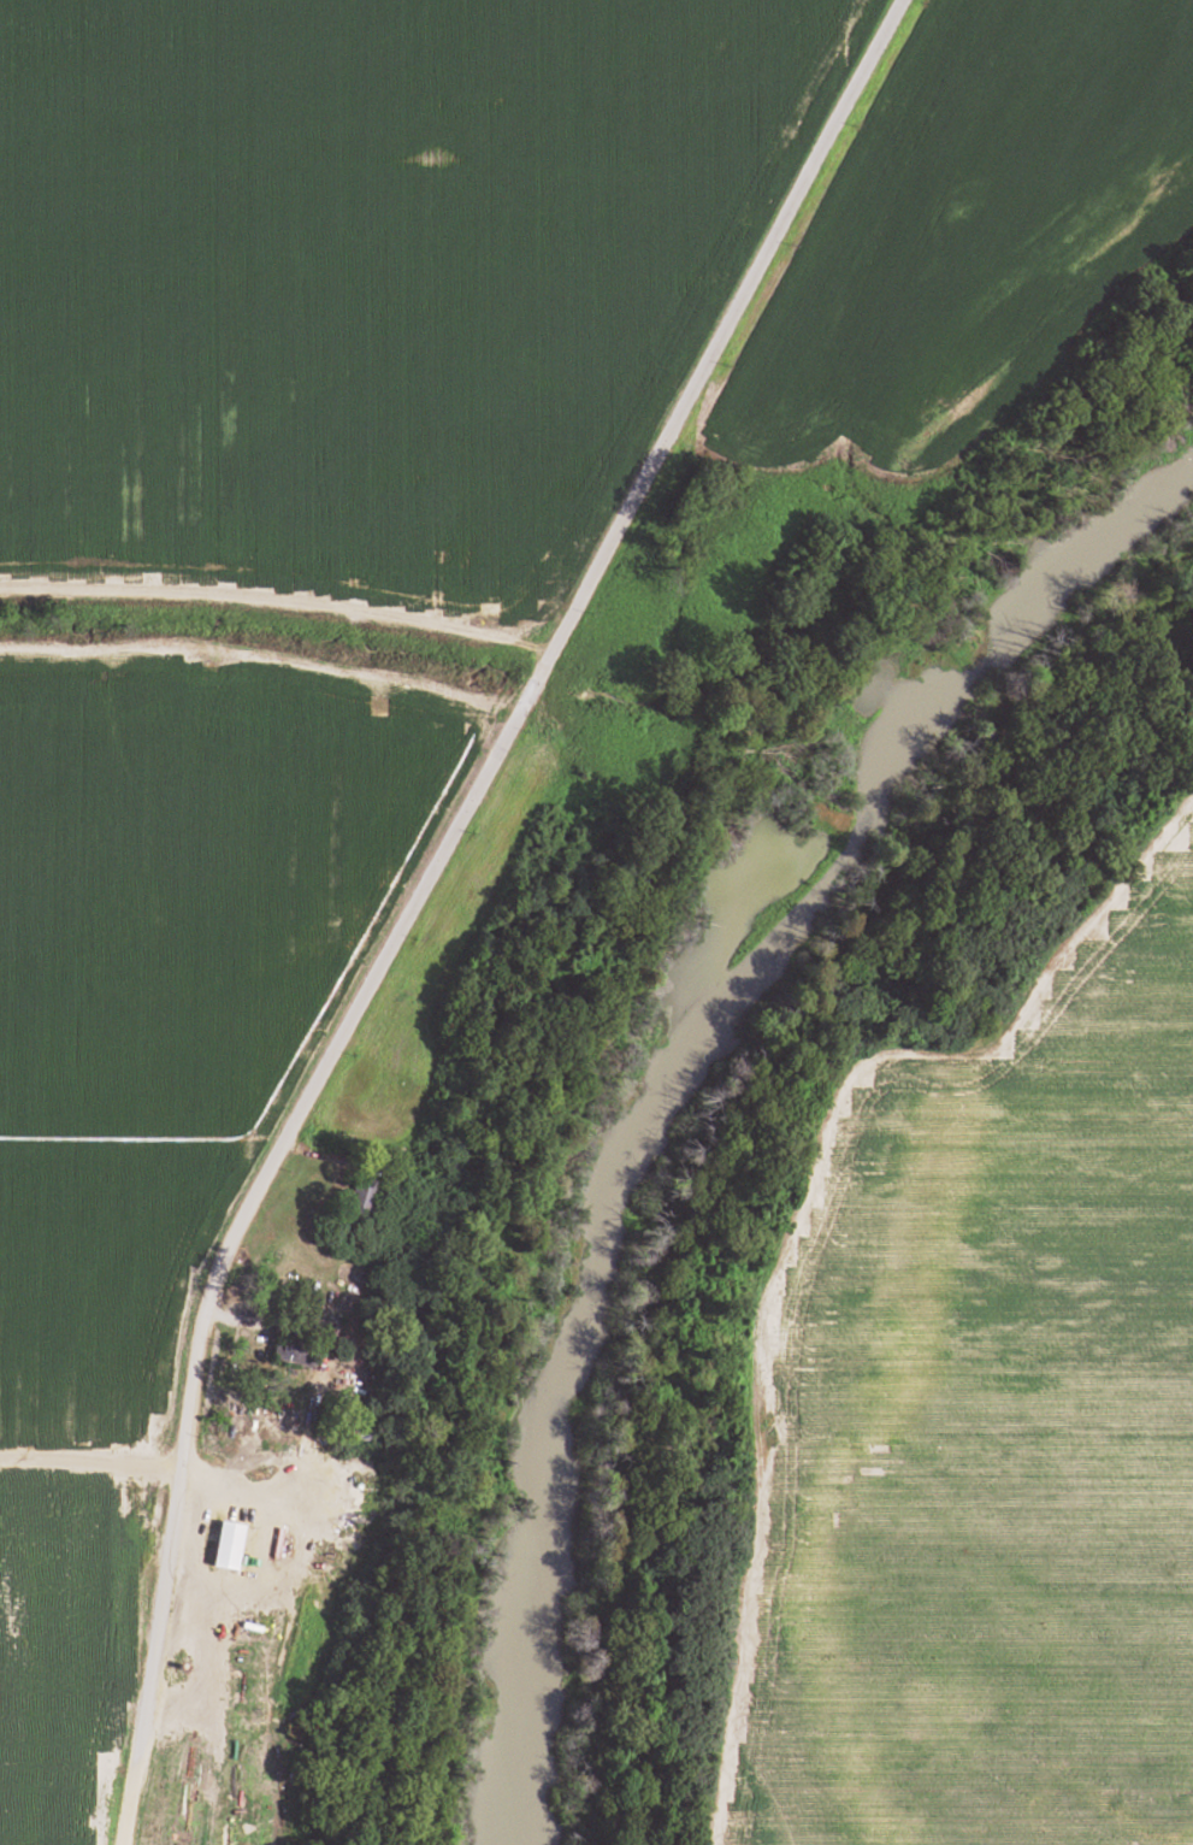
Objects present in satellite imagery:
road: (450, 831)
river: (660, 1057)
building: (361, 1197)
building: (226, 1546)
road: (279, 1548)
road: (126, 1776)
road: (1191, 1815)

